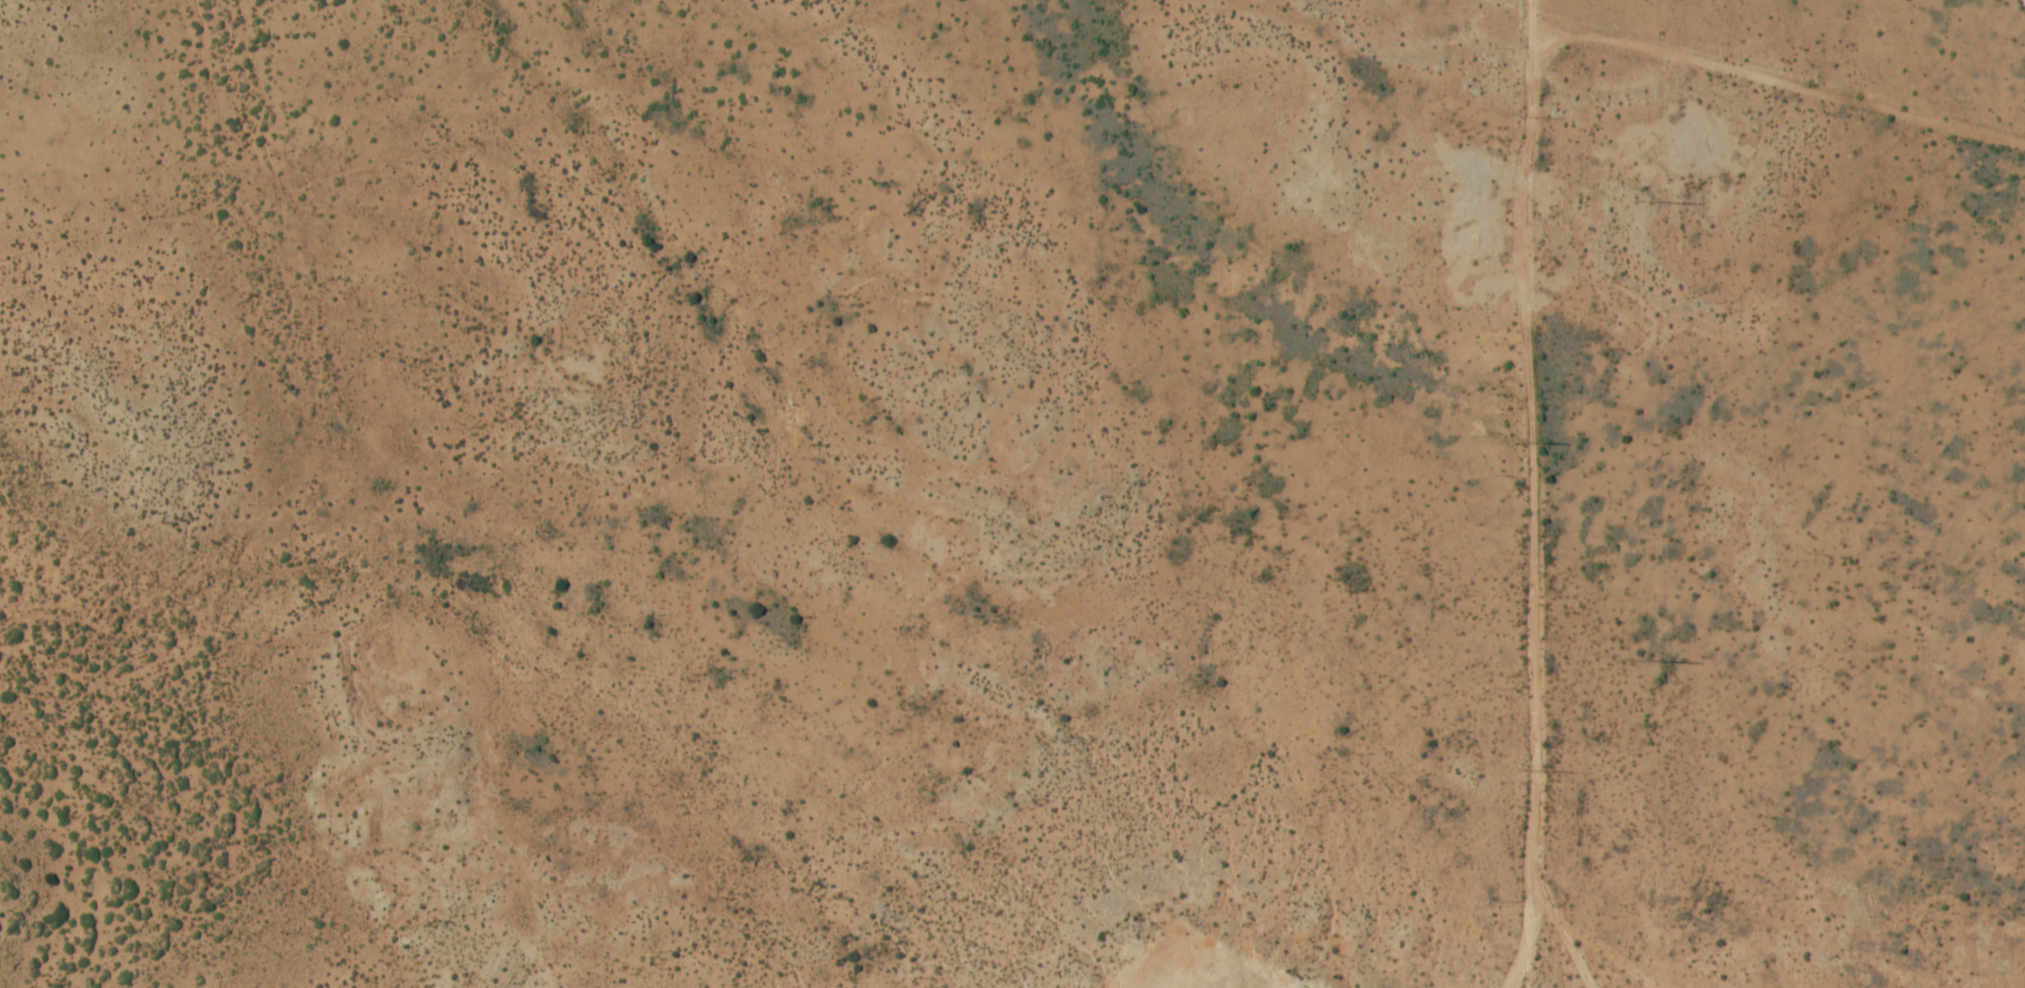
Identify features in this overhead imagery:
road: (1528, 23)
power tower: (1521, 117)
power tower: (1643, 200)
road: (1519, 263)
power tower: (1523, 442)
power tower: (1646, 661)
power tower: (1526, 770)
road: (1531, 941)

